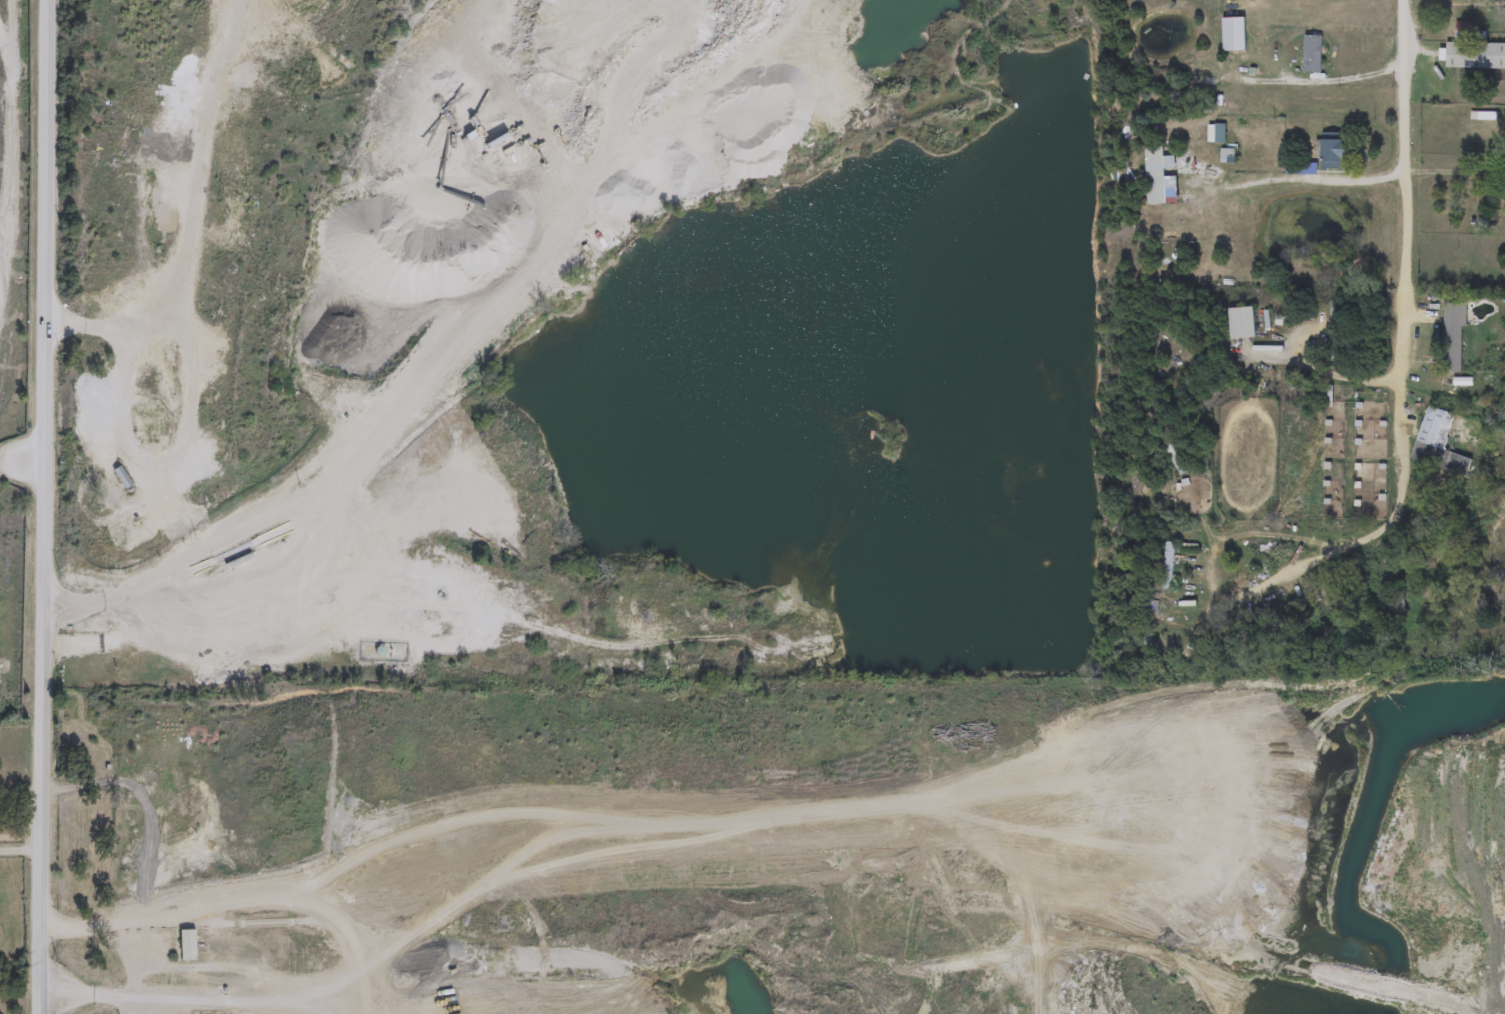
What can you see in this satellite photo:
building: (1462, 34)
building: (1312, 54)
building: (1475, 55)
road: (1334, 80)
building: (1215, 133)
building: (1333, 154)
road: (1451, 172)
building: (1155, 174)
road: (1295, 183)
road: (1404, 318)
building: (1241, 323)
building: (1452, 338)
building: (217, 339)
road: (1326, 375)
road: (426, 378)
building: (1434, 439)
building: (104, 492)
road: (45, 507)
building: (1166, 565)
road: (1252, 582)
road: (94, 598)
road: (314, 600)
road: (148, 610)
building: (1147, 640)
road: (98, 644)
road: (21, 791)
road: (20, 835)
road: (20, 849)
road: (187, 914)
road: (371, 951)
road: (257, 994)
road: (124, 995)

